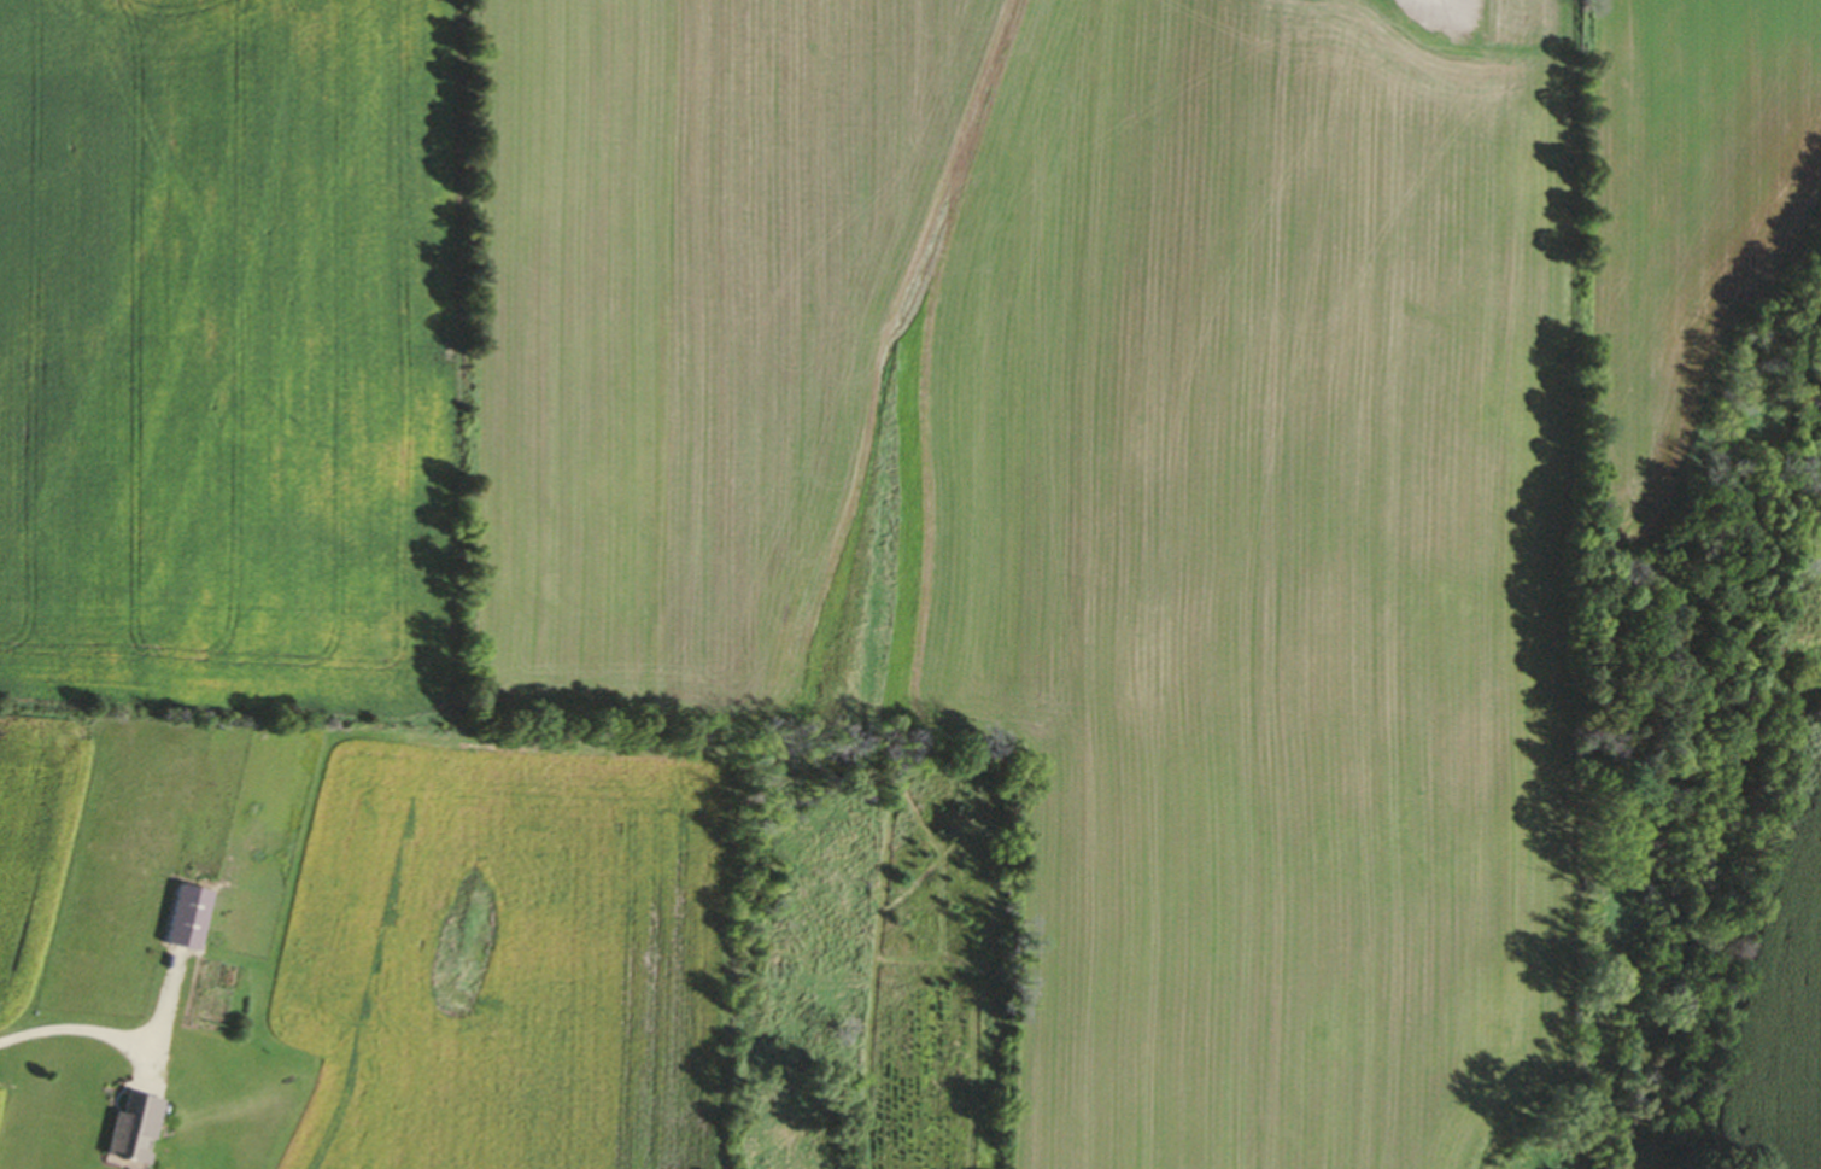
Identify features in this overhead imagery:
building: (1428, 4)
building: (181, 918)
road: (70, 1030)
building: (125, 1130)

